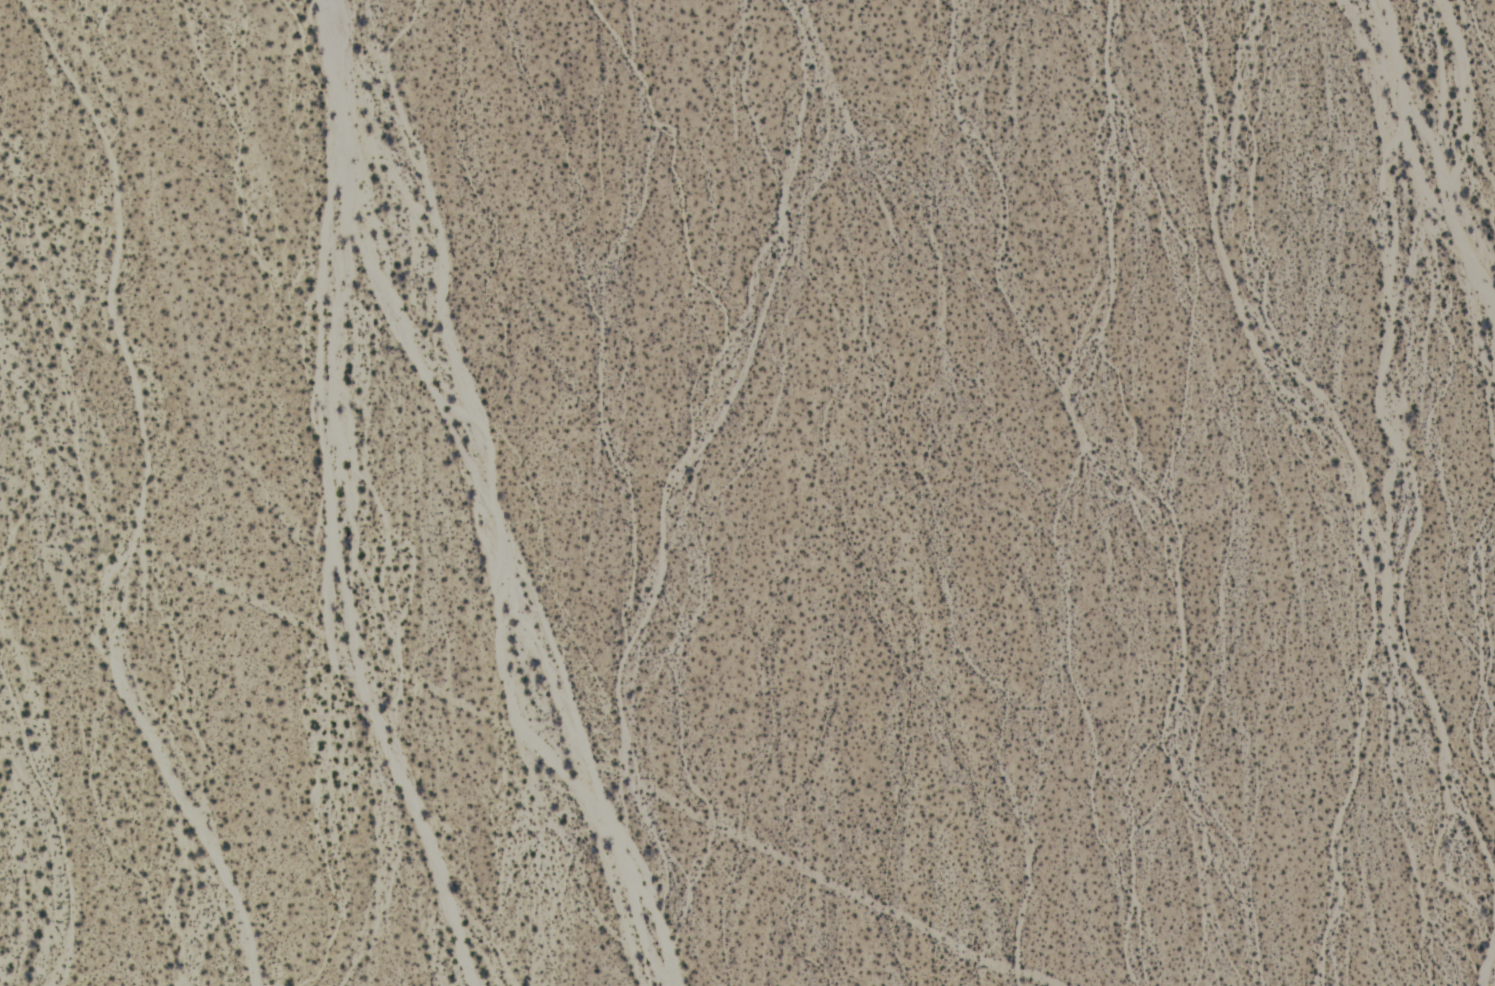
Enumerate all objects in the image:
road: (528, 733)

